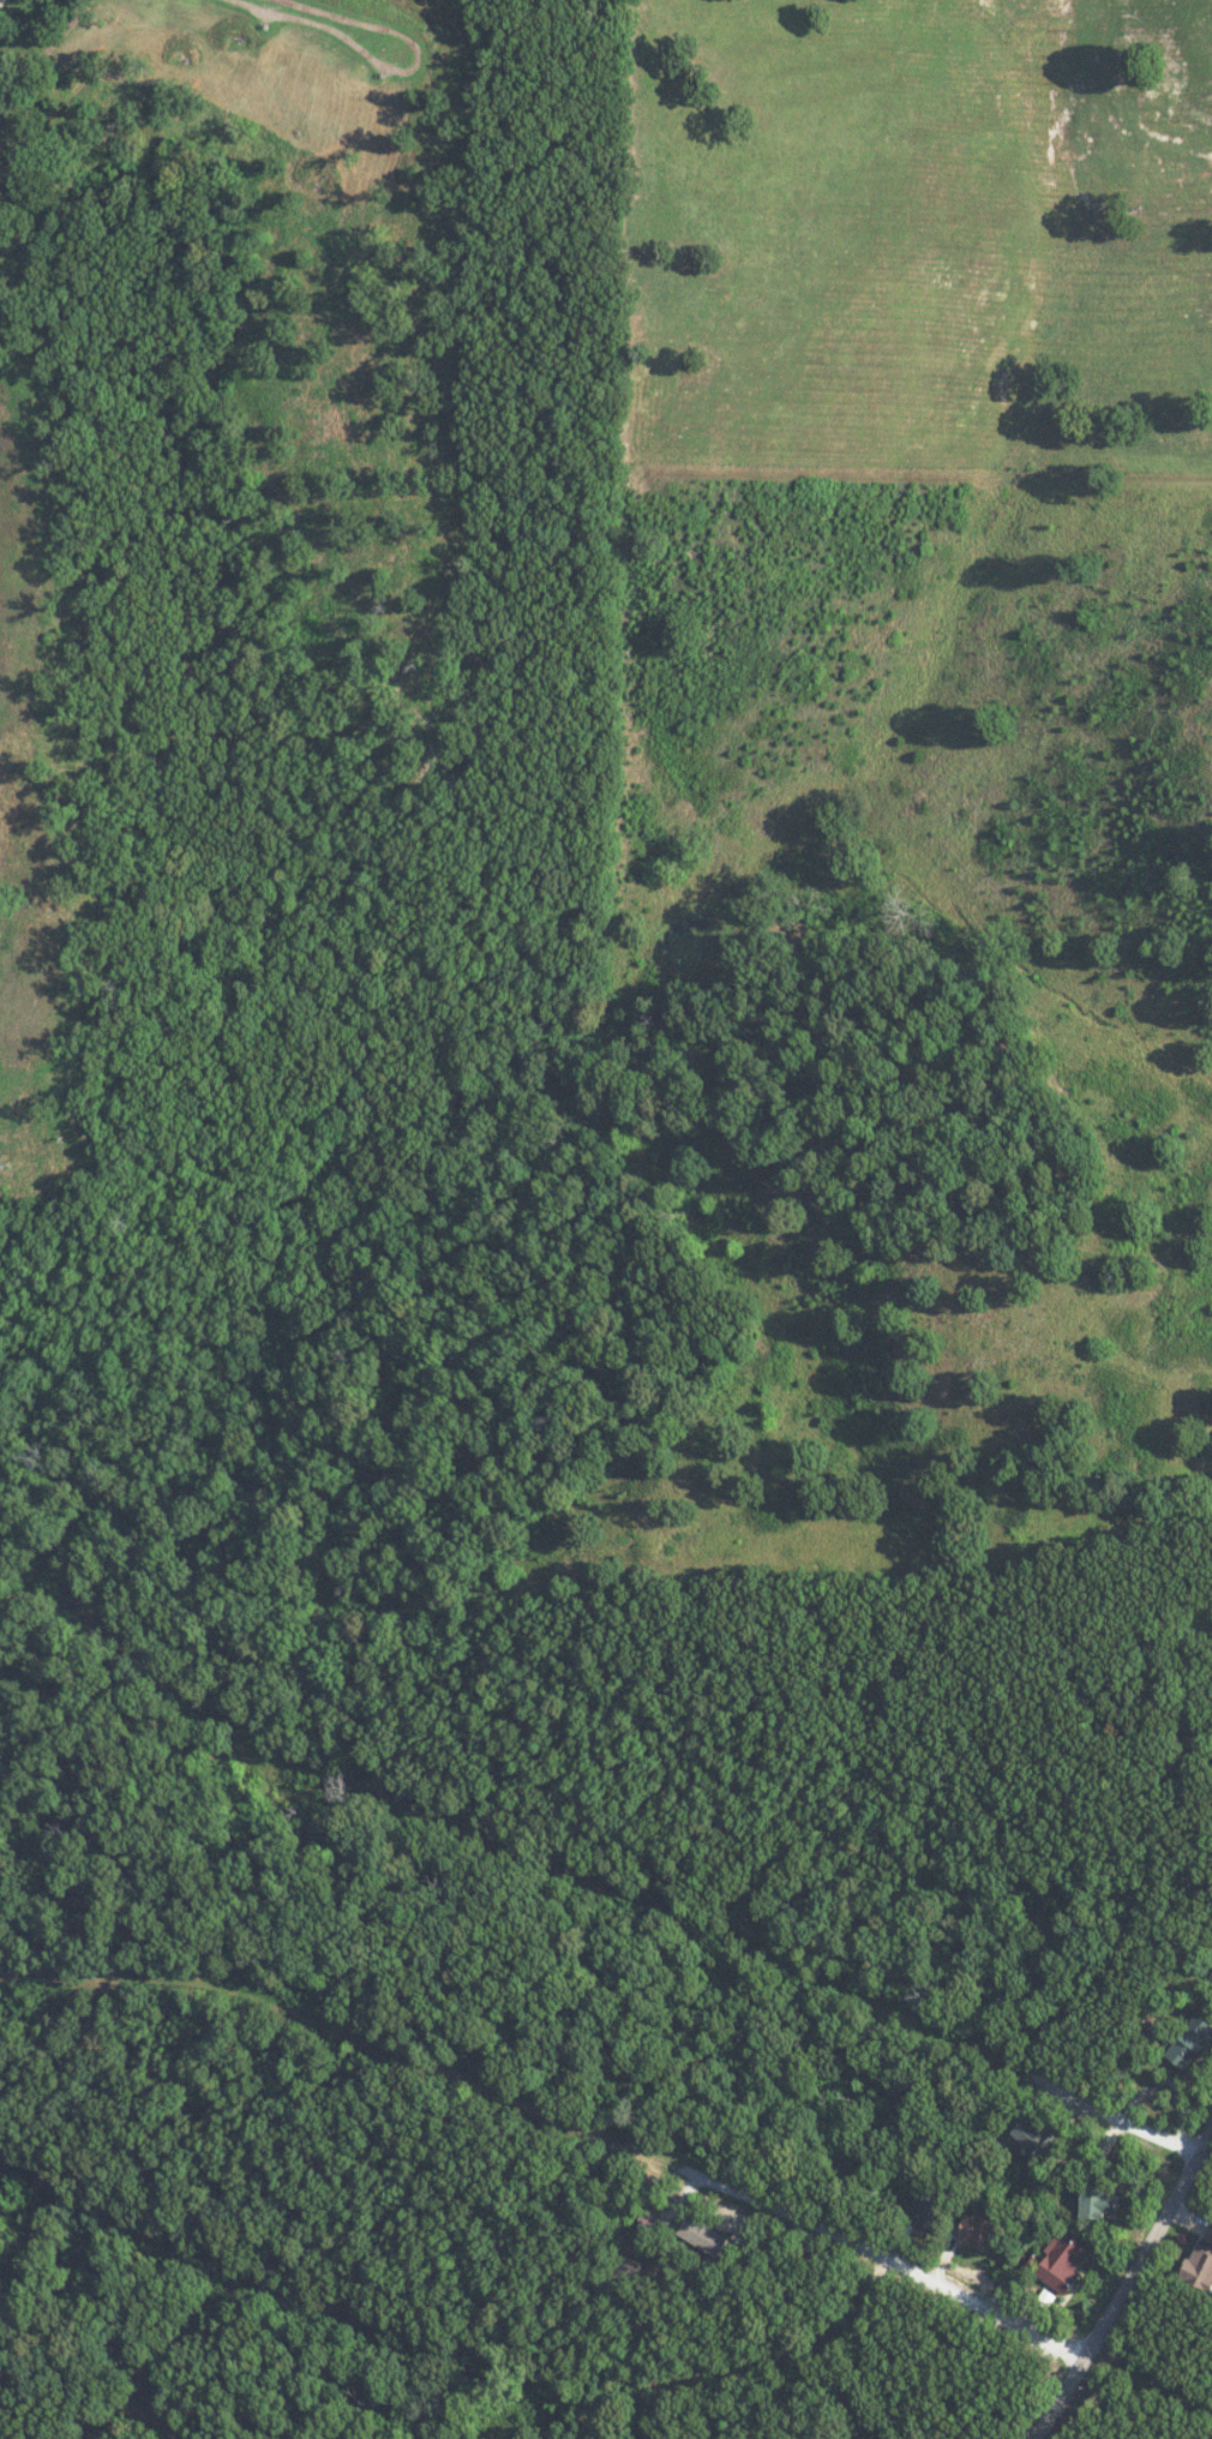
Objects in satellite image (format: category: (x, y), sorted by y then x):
road: (577, 1872)
building: (1192, 2042)
road: (554, 2117)
building: (1036, 2134)
building: (1098, 2203)
building: (655, 2219)
building: (704, 2236)
building: (1064, 2263)
building: (1201, 2266)
road: (1122, 2282)
road: (466, 2369)
road: (140, 2386)
road: (140, 2411)
road: (456, 2433)

